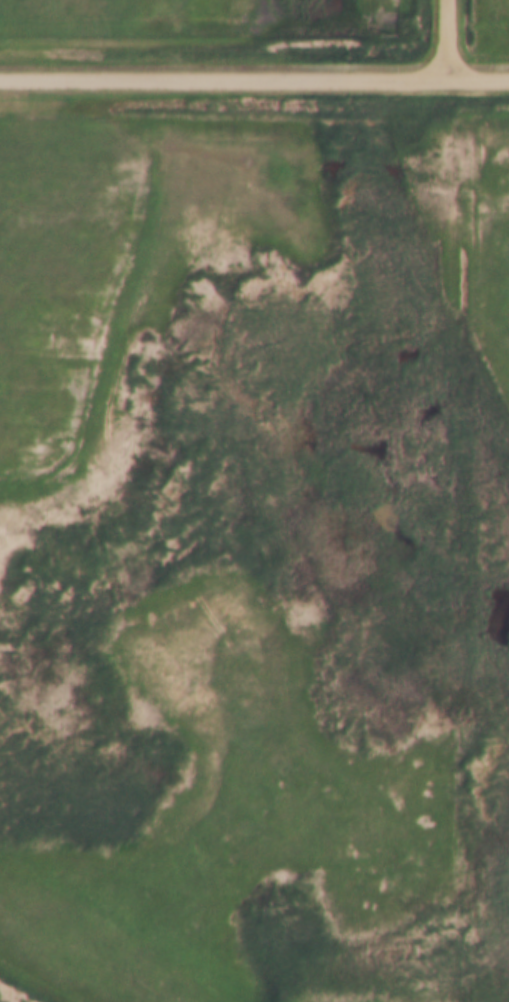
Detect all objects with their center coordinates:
road: (440, 39)
road: (254, 77)

